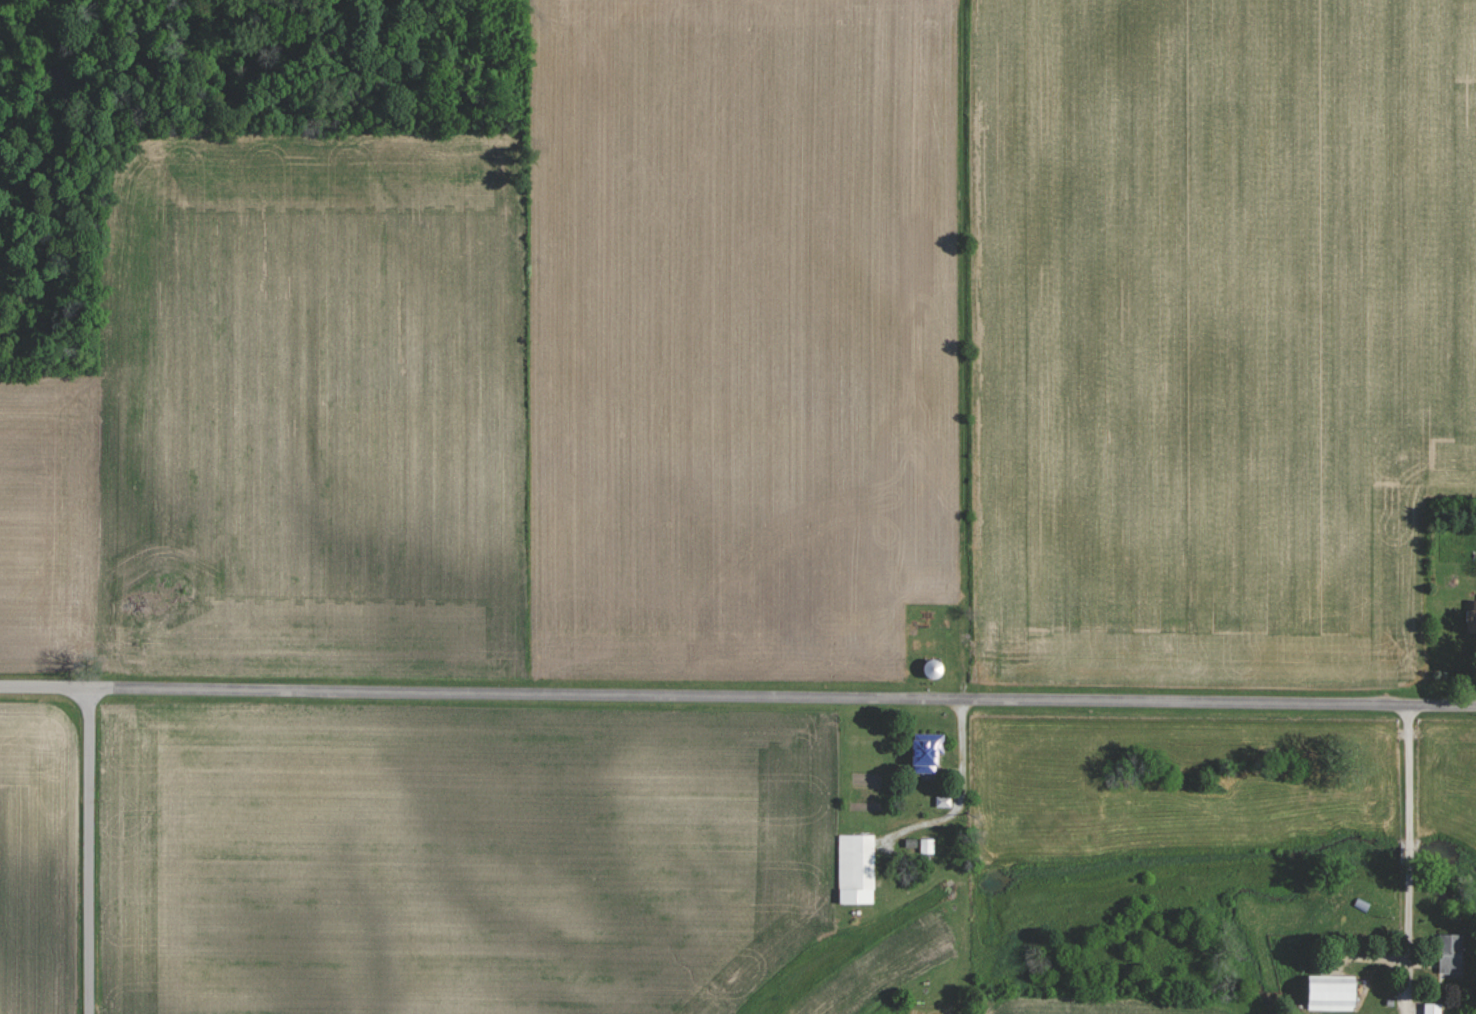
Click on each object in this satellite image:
building: (1472, 616)
road: (737, 695)
building: (928, 752)
building: (944, 802)
building: (928, 846)
road: (89, 850)
road: (953, 855)
road: (1408, 859)
building: (857, 869)
building: (1452, 953)
building: (1335, 992)
building: (1433, 1008)

